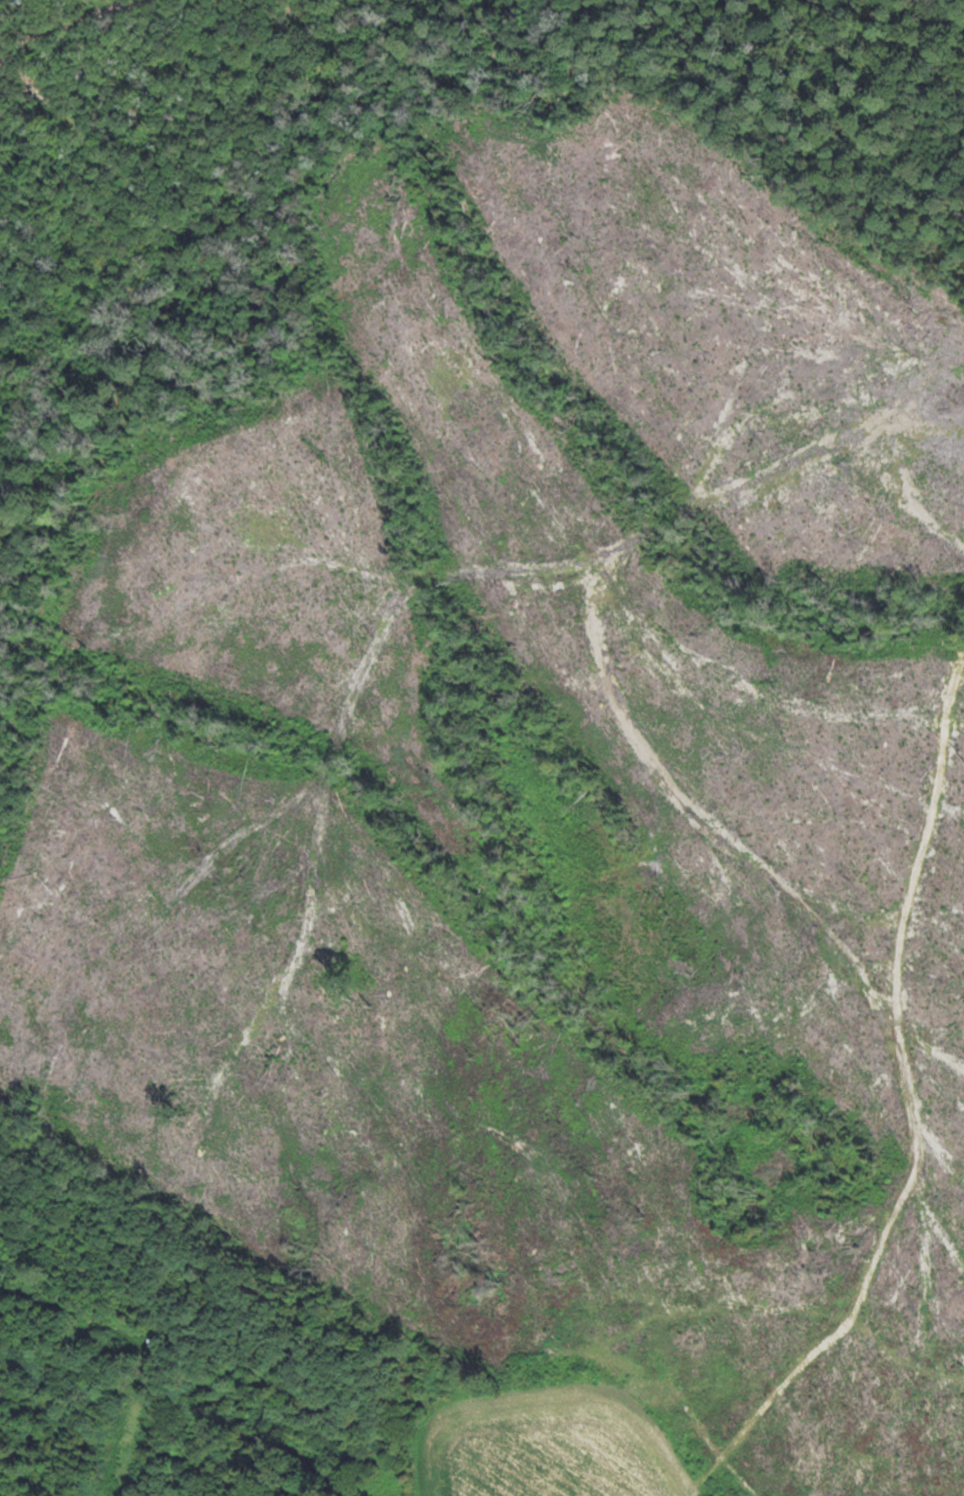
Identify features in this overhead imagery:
road: (849, 1065)

